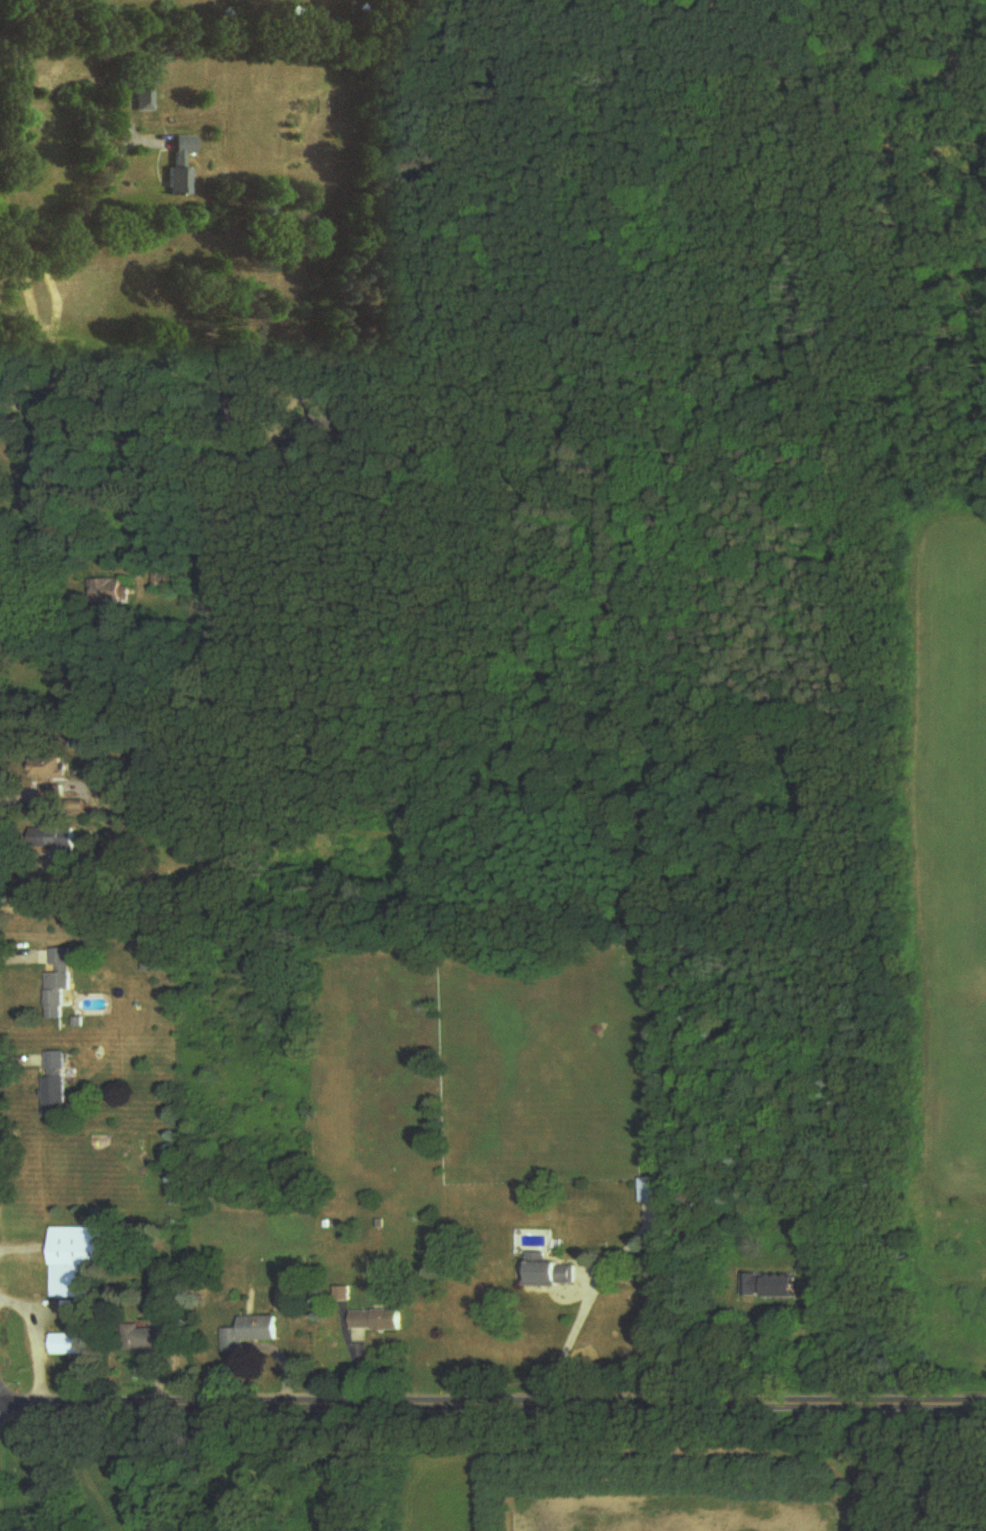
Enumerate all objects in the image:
building: (147, 98)
building: (183, 166)
road: (77, 199)
building: (159, 581)
building: (107, 593)
building: (46, 769)
building: (54, 842)
building: (158, 964)
building: (57, 984)
building: (55, 1080)
building: (648, 1191)
building: (83, 1260)
building: (548, 1274)
building: (771, 1286)
building: (377, 1320)
building: (250, 1334)
building: (153, 1338)
road: (569, 1343)
building: (68, 1345)
road: (493, 1404)
road: (871, 1468)

